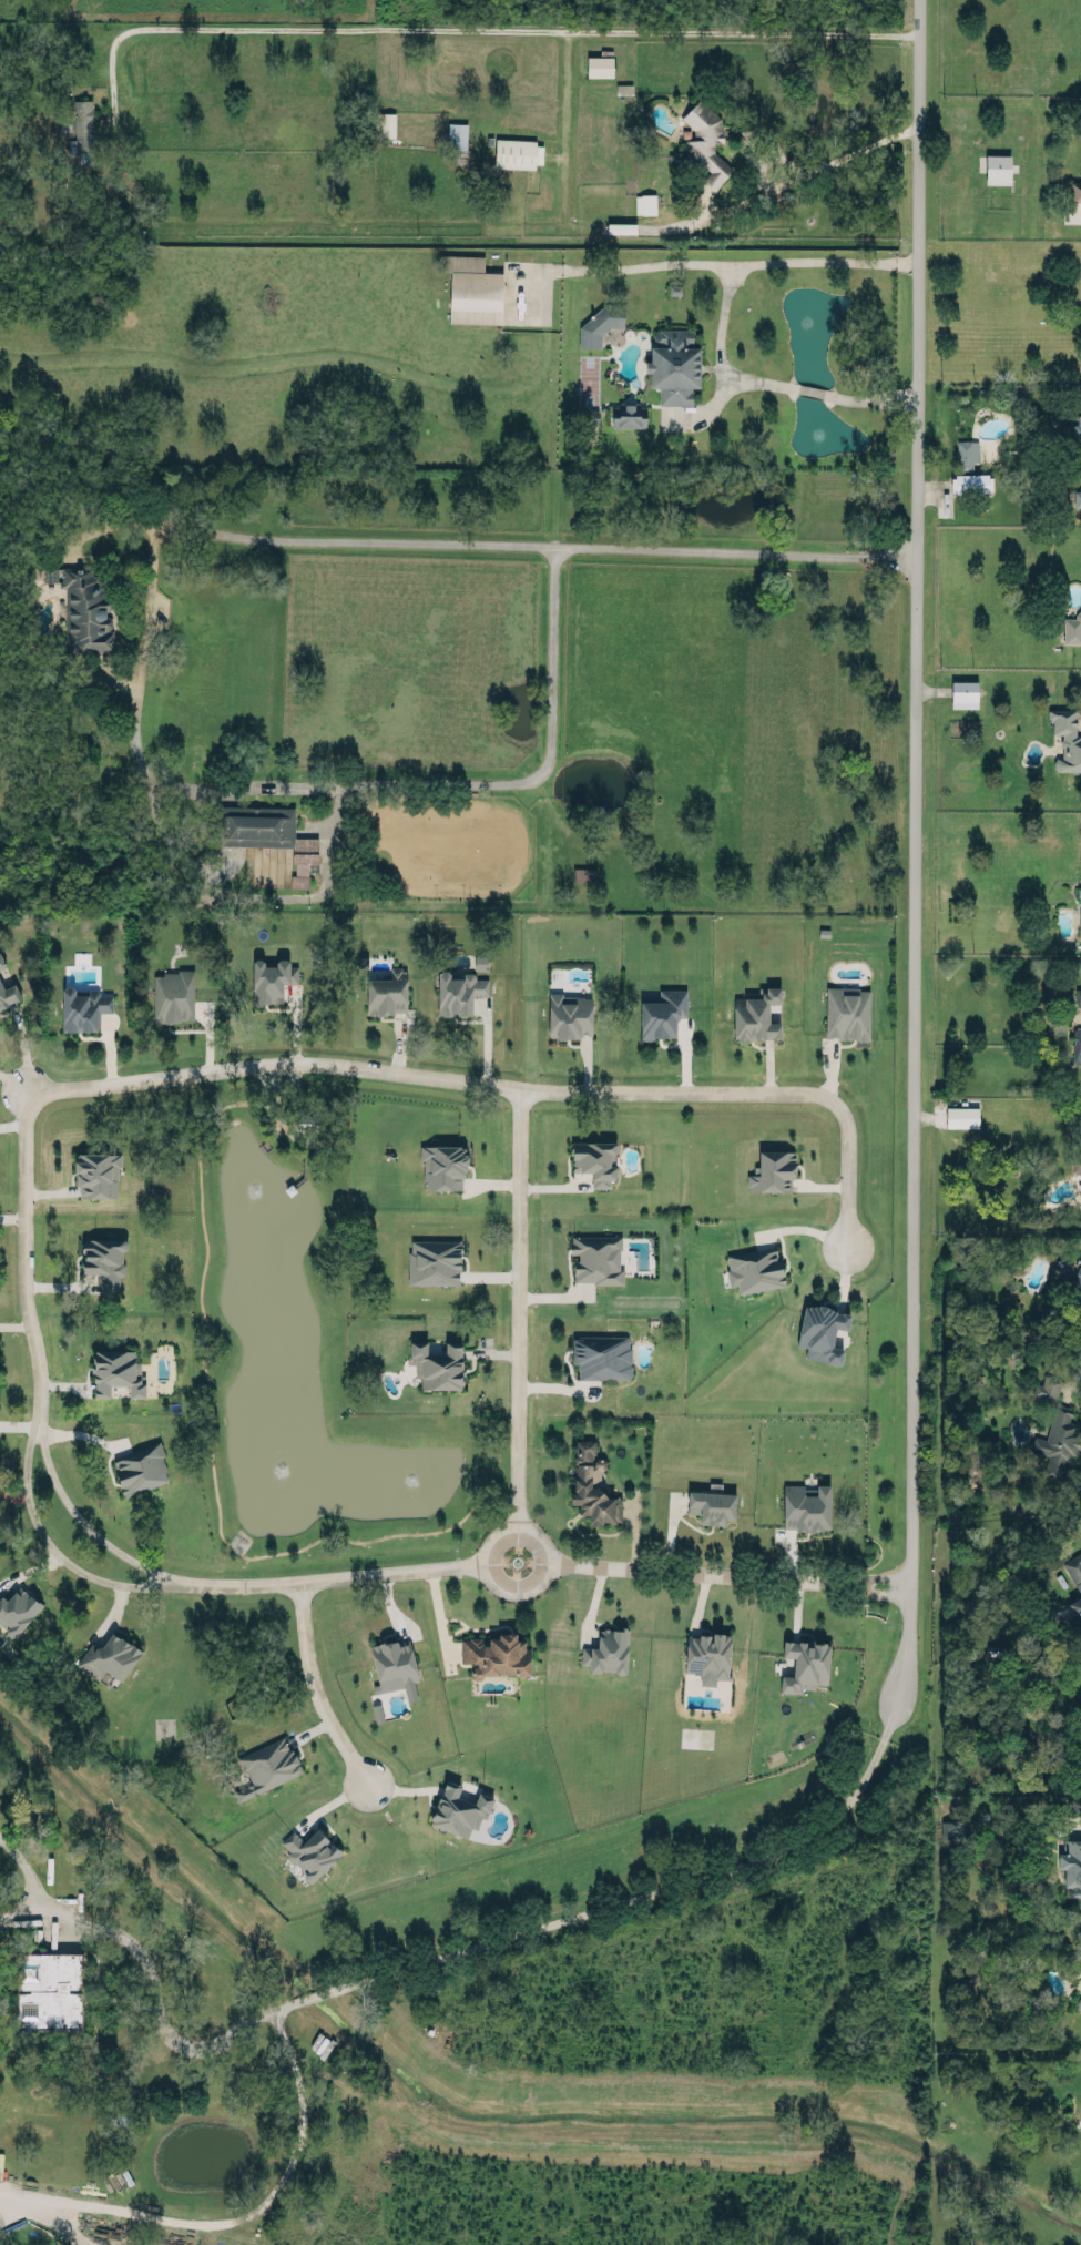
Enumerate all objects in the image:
road: (471, 28)
building: (598, 63)
building: (83, 123)
building: (385, 123)
building: (705, 140)
building: (518, 152)
building: (997, 167)
building: (1080, 170)
road: (816, 172)
building: (1075, 186)
building: (643, 203)
road: (677, 224)
building: (620, 226)
road: (641, 263)
building: (472, 288)
building: (1080, 313)
building: (601, 322)
road: (722, 326)
building: (672, 364)
building: (628, 410)
building: (588, 415)
building: (1074, 429)
building: (966, 453)
building: (1080, 463)
building: (970, 482)
building: (1077, 497)
road: (146, 518)
building: (84, 607)
building: (1071, 627)
road: (144, 630)
road: (557, 663)
road: (203, 664)
building: (963, 693)
building: (1065, 734)
building: (267, 834)
road: (918, 871)
building: (583, 873)
road: (261, 894)
building: (1079, 912)
building: (1, 962)
building: (272, 979)
building: (459, 988)
building: (387, 989)
building: (8, 994)
building: (173, 995)
building: (1078, 997)
building: (83, 1007)
building: (845, 1009)
building: (662, 1013)
building: (756, 1013)
building: (569, 1014)
building: (1077, 1044)
road: (430, 1075)
building: (962, 1116)
building: (594, 1158)
building: (442, 1165)
building: (1077, 1166)
building: (774, 1168)
building: (96, 1170)
road: (847, 1170)
road: (24, 1246)
building: (598, 1257)
building: (104, 1258)
building: (434, 1259)
building: (754, 1269)
building: (1079, 1277)
road: (518, 1306)
building: (820, 1331)
building: (602, 1355)
building: (439, 1361)
building: (116, 1365)
road: (1075, 1382)
building: (1047, 1385)
building: (1058, 1441)
building: (140, 1467)
building: (592, 1484)
building: (712, 1505)
building: (806, 1506)
road: (82, 1518)
road: (50, 1546)
road: (704, 1570)
road: (490, 1575)
road: (339, 1577)
road: (887, 1582)
building: (1077, 1598)
building: (16, 1606)
building: (606, 1647)
building: (496, 1648)
building: (109, 1653)
building: (706, 1654)
building: (805, 1664)
building: (394, 1666)
road: (314, 1687)
building: (265, 1765)
building: (458, 1804)
building: (945, 1829)
building: (310, 1847)
building: (1072, 1867)
road: (24, 1904)
road: (608, 1911)
road: (141, 1949)
building: (49, 1989)
building: (1079, 2004)
road: (8, 2201)
road: (233, 2223)

